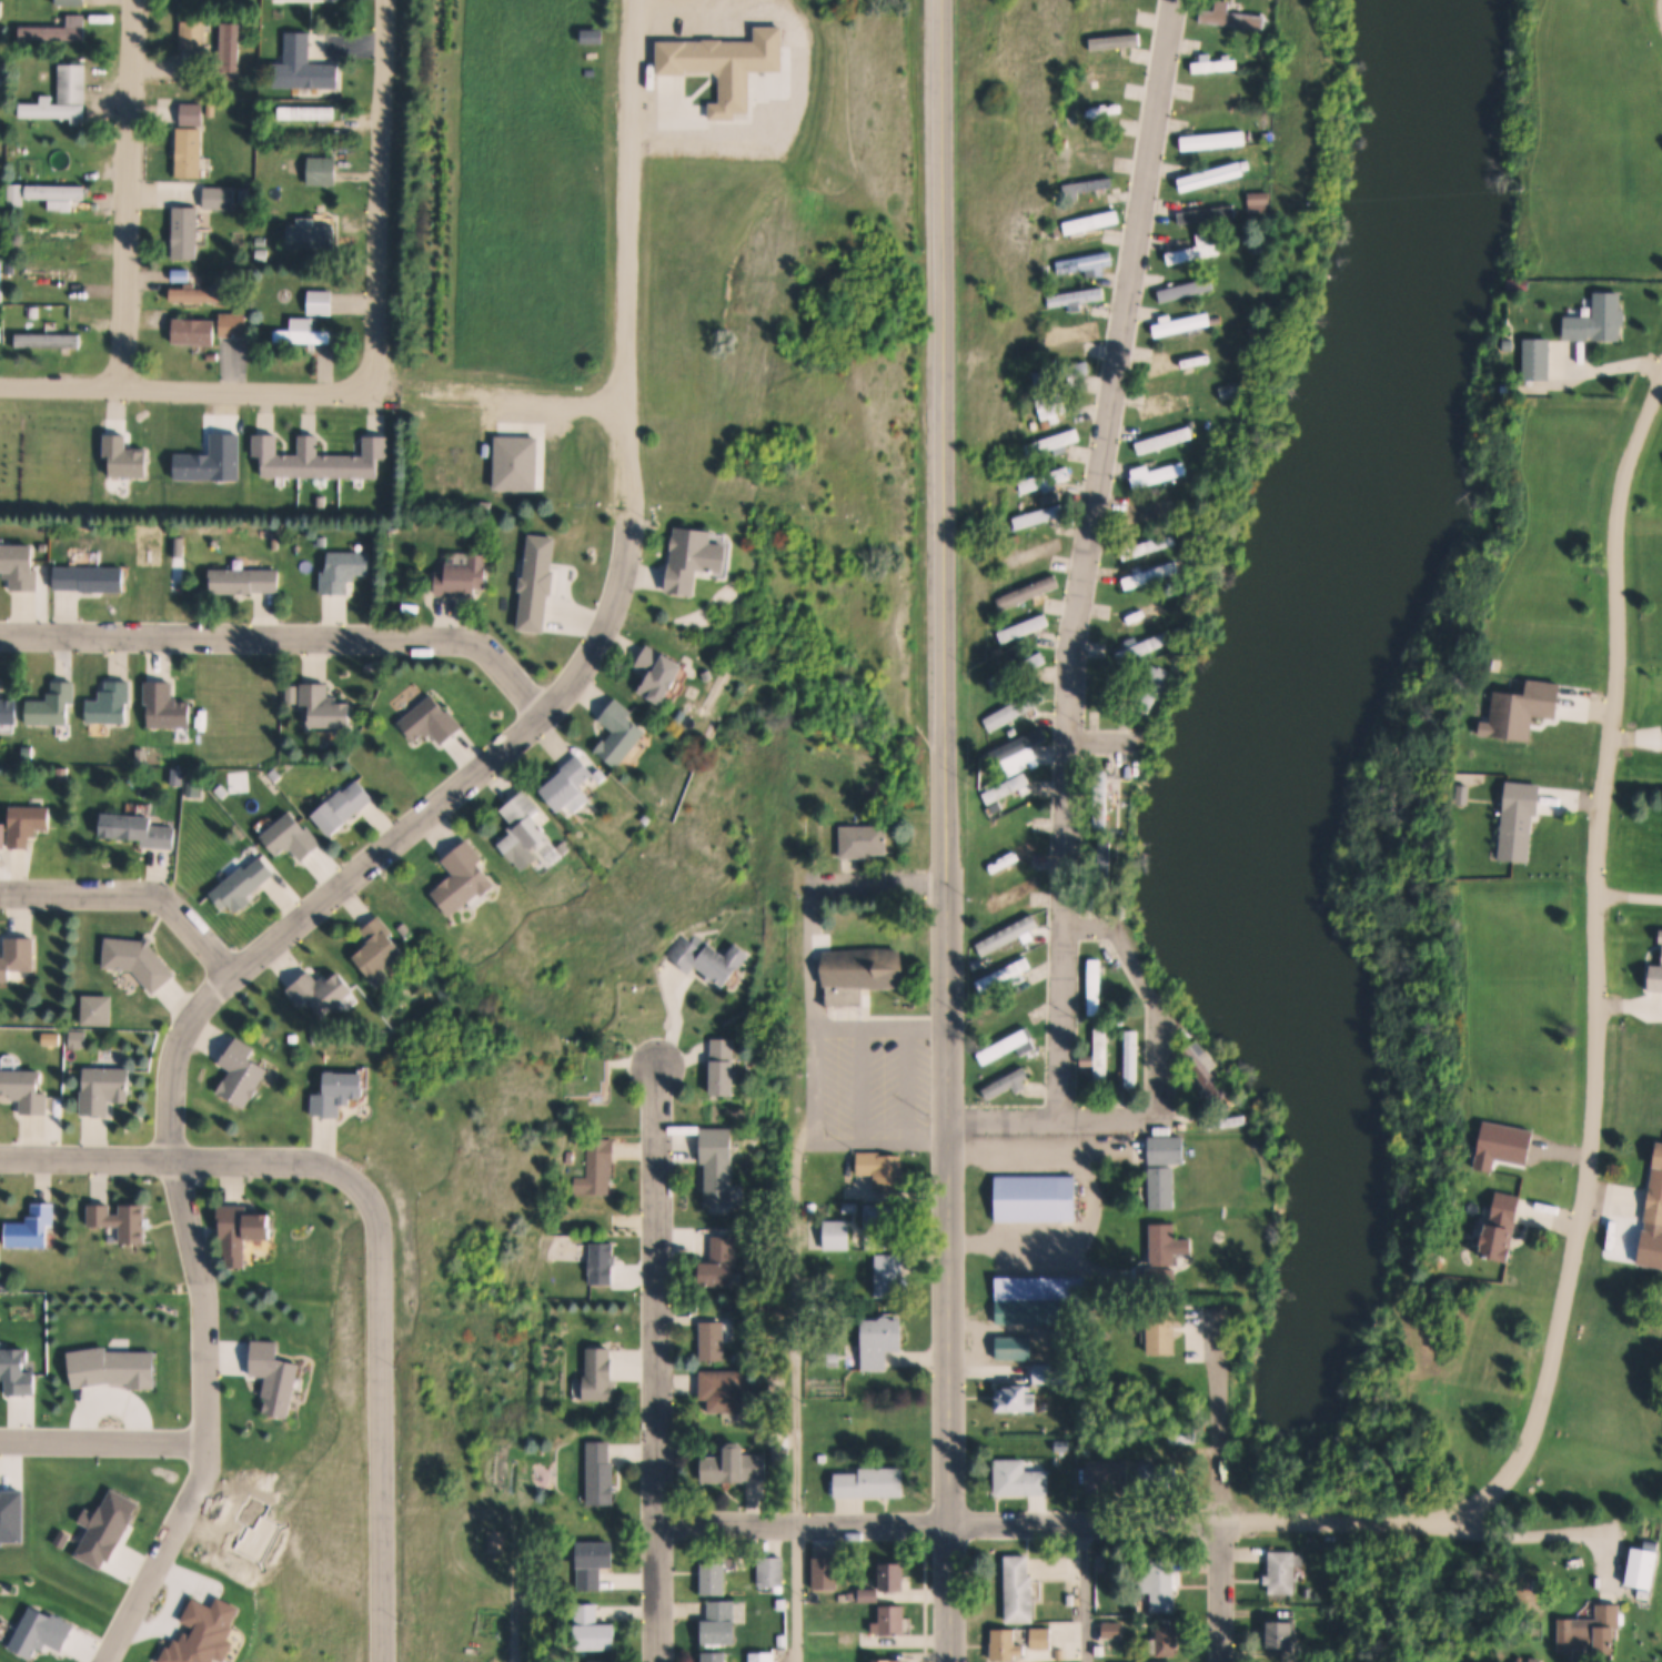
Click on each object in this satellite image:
building: (70, 2)
building: (0, 6)
road: (1659, 10)
building: (1230, 13)
building: (251, 21)
building: (56, 30)
building: (192, 34)
building: (228, 50)
building: (301, 66)
building: (1221, 66)
building: (1112, 75)
building: (1272, 80)
building: (2, 81)
building: (62, 97)
building: (1212, 103)
building: (308, 113)
building: (190, 114)
building: (1219, 140)
building: (1272, 152)
building: (188, 153)
building: (321, 171)
building: (1212, 178)
building: (1090, 184)
building: (14, 195)
building: (57, 195)
road: (127, 197)
building: (218, 199)
road: (379, 199)
road: (631, 202)
building: (1212, 214)
building: (1089, 222)
building: (1270, 229)
building: (54, 233)
building: (183, 233)
building: (310, 235)
building: (258, 242)
building: (1201, 251)
building: (259, 255)
building: (1085, 263)
building: (8, 269)
building: (48, 275)
building: (1192, 290)
building: (195, 294)
building: (1077, 298)
building: (319, 303)
building: (30, 313)
building: (1599, 321)
building: (1186, 325)
building: (231, 326)
building: (191, 332)
building: (1261, 332)
building: (1071, 333)
building: (301, 334)
building: (47, 342)
building: (1509, 345)
building: (1537, 361)
building: (1187, 362)
building: (1061, 374)
building: (1250, 376)
building: (1237, 392)
road: (314, 396)
building: (1062, 404)
building: (1168, 404)
building: (1169, 442)
building: (1052, 444)
building: (319, 460)
building: (1161, 476)
building: (1046, 482)
building: (319, 502)
building: (1156, 513)
building: (1040, 516)
building: (390, 525)
building: (320, 542)
building: (308, 543)
building: (271, 544)
building: (1154, 547)
building: (40, 548)
building: (1036, 554)
road: (1087, 555)
building: (696, 557)
building: (18, 566)
building: (342, 571)
building: (1155, 576)
building: (461, 577)
building: (88, 580)
building: (241, 581)
building: (535, 583)
building: (1028, 592)
building: (1142, 618)
building: (1024, 628)
road: (289, 641)
building: (1148, 649)
building: (665, 671)
building: (1017, 671)
building: (714, 673)
building: (290, 694)
building: (1111, 696)
building: (108, 704)
building: (50, 705)
building: (163, 706)
building: (323, 707)
building: (1015, 709)
building: (7, 711)
river: (1295, 715)
building: (427, 721)
building: (624, 733)
road: (1107, 734)
building: (1019, 747)
building: (138, 755)
road: (946, 761)
building: (58, 774)
building: (270, 775)
building: (605, 775)
building: (174, 776)
building: (572, 783)
building: (1008, 787)
building: (191, 789)
building: (1104, 804)
building: (1000, 806)
building: (341, 807)
building: (1017, 823)
building: (23, 824)
building: (135, 829)
building: (524, 830)
building: (1, 835)
building: (289, 836)
building: (867, 839)
building: (1018, 855)
building: (462, 877)
building: (240, 884)
building: (1016, 894)
road: (133, 897)
building: (402, 929)
road: (814, 931)
building: (1014, 933)
building: (379, 951)
building: (16, 956)
building: (711, 959)
building: (135, 961)
building: (977, 961)
road: (1598, 964)
building: (1007, 971)
building: (863, 973)
road: (235, 974)
building: (1099, 985)
building: (320, 991)
building: (1089, 1028)
building: (315, 1038)
building: (292, 1039)
building: (1011, 1046)
building: (1104, 1055)
building: (1136, 1057)
building: (729, 1065)
building: (1209, 1071)
building: (239, 1074)
building: (584, 1075)
parking lot: (870, 1079)
building: (1007, 1084)
building: (23, 1089)
building: (101, 1089)
building: (339, 1092)
road: (1164, 1096)
building: (1229, 1122)
building: (572, 1126)
building: (1187, 1126)
building: (828, 1137)
building: (1171, 1149)
building: (572, 1156)
road: (184, 1162)
building: (726, 1164)
building: (600, 1167)
building: (882, 1170)
building: (1167, 1187)
building: (1656, 1192)
building: (1037, 1198)
building: (849, 1207)
building: (882, 1217)
building: (119, 1221)
building: (1504, 1226)
building: (30, 1228)
building: (240, 1231)
building: (837, 1233)
building: (1168, 1245)
building: (725, 1262)
building: (889, 1278)
building: (6, 1285)
building: (1046, 1299)
road: (796, 1315)
building: (1168, 1327)
building: (716, 1340)
building: (882, 1340)
building: (1017, 1348)
road: (657, 1363)
building: (604, 1372)
building: (1045, 1372)
building: (727, 1389)
building: (1018, 1398)
road: (1222, 1408)
road: (380, 1423)
building: (1186, 1432)
road: (102, 1449)
building: (822, 1459)
building: (1059, 1460)
building: (736, 1465)
building: (602, 1473)
building: (1111, 1475)
building: (1023, 1478)
building: (1160, 1479)
building: (872, 1483)
road: (940, 1523)
road: (1341, 1524)
road: (1560, 1535)
building: (498, 1541)
building: (1104, 1560)
building: (595, 1562)
building: (1645, 1569)
building: (773, 1571)
building: (716, 1572)
building: (1282, 1572)
building: (894, 1577)
building: (1161, 1584)
building: (1021, 1589)
road: (1222, 1591)
road: (953, 1592)
road: (1088, 1592)
building: (870, 1594)
building: (850, 1595)
building: (1070, 1599)
road: (516, 1600)
building: (783, 1604)
building: (893, 1620)
building: (722, 1622)
building: (1115, 1628)
building: (594, 1629)
building: (1600, 1630)
building: (1283, 1634)
building: (1042, 1636)
building: (783, 1640)
building: (849, 1640)
building: (1167, 1640)
building: (1010, 1643)
building: (716, 1655)
building: (764, 1656)
building: (892, 1660)
building: (604, 1661)

